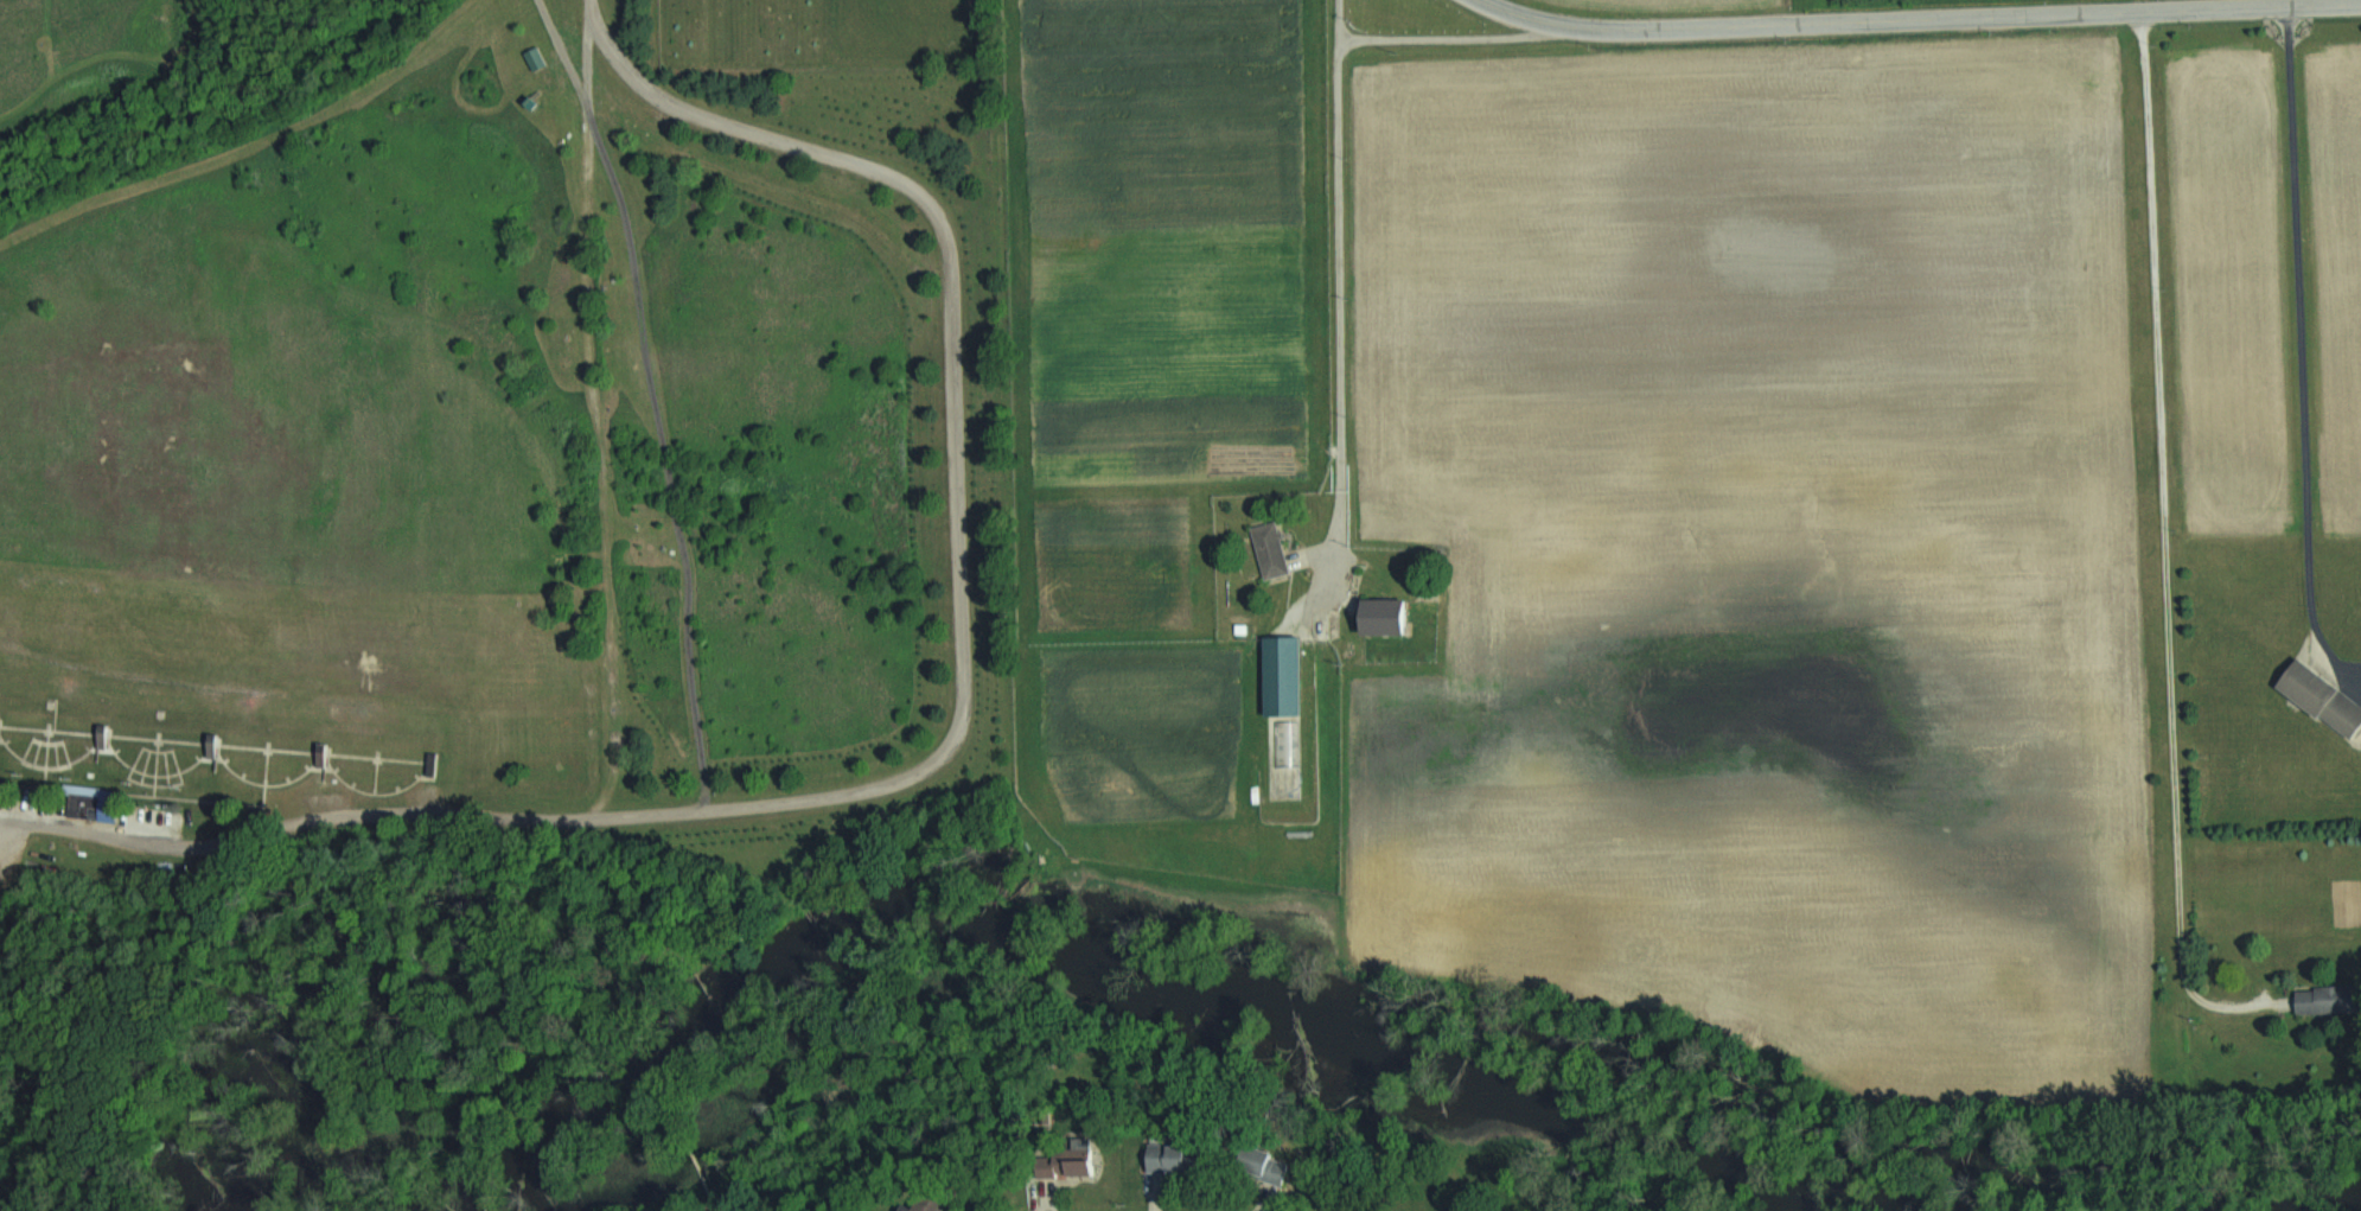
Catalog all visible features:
road: (1919, 20)
road: (1443, 36)
road: (1336, 301)
road: (2297, 361)
road: (2161, 548)
building: (1263, 549)
building: (1371, 617)
building: (1272, 675)
building: (2314, 696)
road: (957, 739)
building: (78, 801)
river: (1146, 945)
building: (2314, 999)
building: (1161, 1156)
building: (1252, 1162)
river: (2213, 1191)
building: (933, 1204)

